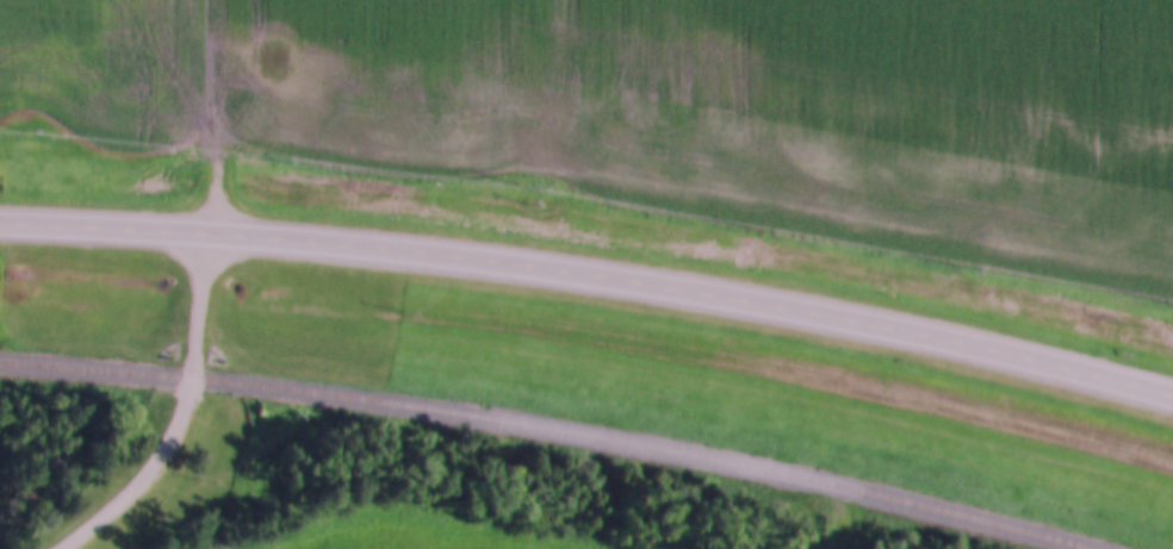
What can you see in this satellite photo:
road: (590, 281)
road: (184, 414)
railway: (548, 428)

